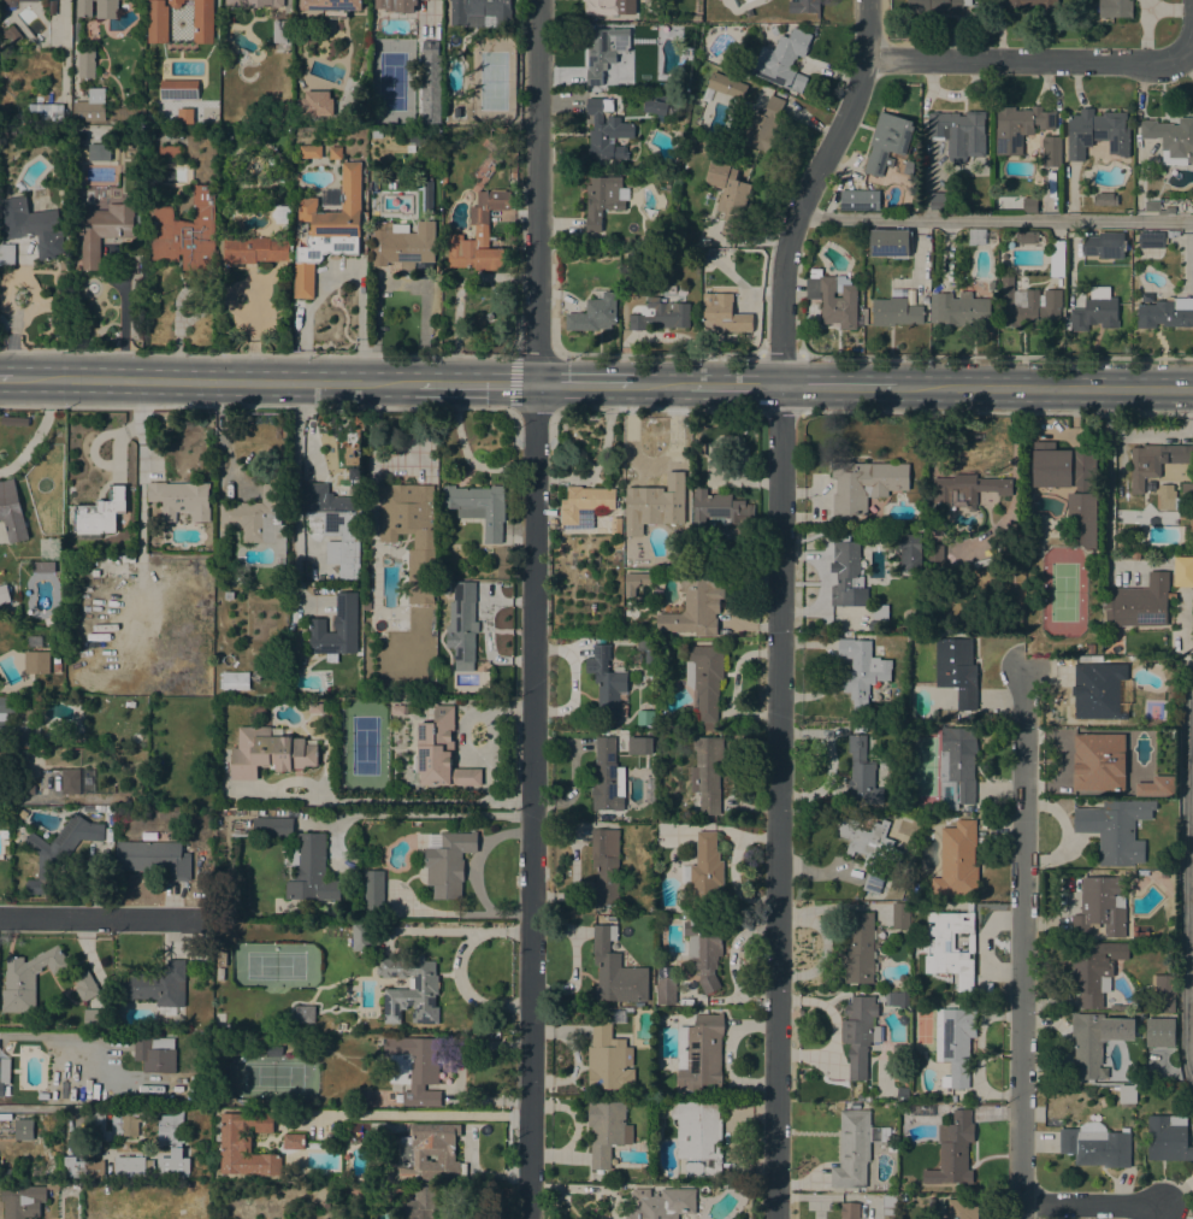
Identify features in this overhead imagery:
building: (49, 0)
building: (175, 2)
building: (253, 2)
building: (13, 4)
building: (396, 5)
building: (803, 6)
building: (935, 6)
building: (1033, 6)
building: (83, 7)
building: (331, 7)
building: (610, 7)
building: (106, 8)
building: (1115, 8)
building: (480, 13)
building: (696, 17)
building: (202, 20)
building: (156, 22)
building: (811, 29)
building: (774, 30)
building: (13, 34)
road: (1189, 45)
building: (430, 48)
building: (603, 51)
building: (782, 60)
road: (1027, 60)
building: (85, 64)
building: (724, 87)
building: (178, 88)
building: (418, 92)
building: (677, 102)
building: (317, 104)
building: (90, 106)
building: (654, 106)
building: (45, 110)
building: (435, 117)
building: (763, 125)
building: (1018, 126)
building: (606, 130)
building: (958, 132)
building: (1097, 132)
building: (377, 134)
building: (1171, 136)
building: (887, 142)
building: (677, 145)
building: (169, 151)
building: (1051, 151)
building: (99, 152)
building: (309, 152)
building: (335, 152)
building: (908, 167)
building: (727, 193)
building: (603, 199)
building: (858, 199)
building: (1104, 199)
building: (658, 200)
building: (940, 200)
building: (1029, 204)
building: (1156, 207)
road: (996, 219)
building: (30, 226)
building: (327, 229)
building: (104, 230)
building: (301, 230)
building: (184, 231)
building: (1171, 234)
building: (479, 236)
building: (976, 236)
building: (1027, 236)
building: (1151, 238)
building: (642, 240)
building: (888, 242)
building: (1104, 245)
building: (397, 246)
building: (254, 249)
building: (7, 254)
building: (636, 258)
building: (1056, 258)
road: (343, 272)
building: (992, 284)
road: (402, 285)
building: (832, 299)
building: (1028, 305)
building: (961, 310)
building: (1094, 311)
building: (894, 312)
building: (593, 313)
building: (724, 313)
building: (660, 314)
building: (1163, 314)
road: (122, 322)
road: (986, 358)
road: (5, 377)
road: (214, 379)
road: (476, 383)
road: (583, 384)
road: (660, 384)
road: (733, 385)
road: (839, 385)
road: (1045, 387)
road: (986, 413)
road: (1150, 435)
building: (699, 448)
building: (1153, 461)
road: (297, 478)
building: (1070, 483)
building: (863, 484)
building: (967, 488)
building: (1167, 493)
building: (179, 499)
building: (584, 502)
building: (652, 506)
building: (478, 507)
building: (724, 510)
building: (11, 512)
building: (100, 512)
building: (258, 518)
building: (333, 520)
building: (411, 532)
building: (1014, 534)
building: (1121, 536)
building: (910, 552)
building: (110, 558)
building: (128, 558)
building: (1181, 563)
building: (42, 566)
building: (95, 572)
building: (847, 575)
building: (634, 582)
building: (4, 596)
road: (778, 601)
building: (1140, 602)
building: (695, 603)
road: (535, 609)
building: (880, 612)
building: (1012, 613)
building: (1093, 619)
building: (402, 624)
building: (862, 624)
building: (461, 625)
building: (335, 628)
road: (485, 630)
building: (34, 640)
building: (1089, 648)
building: (879, 649)
building: (1089, 658)
building: (649, 661)
building: (36, 662)
building: (57, 664)
building: (957, 670)
building: (863, 675)
building: (235, 681)
building: (606, 682)
building: (704, 682)
building: (1098, 693)
building: (129, 703)
building: (314, 708)
building: (5, 709)
building: (398, 709)
building: (24, 734)
building: (638, 744)
building: (441, 750)
building: (270, 752)
building: (23, 756)
road: (486, 756)
building: (1098, 759)
building: (956, 766)
building: (707, 772)
building: (861, 772)
building: (604, 777)
building: (70, 781)
building: (1154, 787)
building: (28, 789)
building: (102, 808)
road: (427, 813)
building: (23, 814)
building: (630, 818)
building: (272, 826)
building: (1115, 829)
road: (1063, 832)
building: (870, 849)
building: (58, 852)
building: (154, 859)
building: (957, 860)
building: (447, 861)
building: (1156, 861)
building: (604, 865)
building: (311, 870)
road: (1185, 871)
building: (705, 872)
road: (477, 874)
building: (1163, 874)
building: (372, 890)
building: (1100, 907)
building: (900, 915)
road: (99, 919)
building: (359, 935)
road: (1021, 942)
building: (951, 947)
building: (704, 949)
building: (860, 949)
road: (459, 967)
building: (615, 970)
building: (1093, 970)
building: (219, 973)
building: (28, 978)
building: (87, 985)
building: (156, 985)
building: (411, 989)
building: (665, 991)
building: (1162, 993)
building: (899, 999)
building: (1114, 1007)
building: (305, 1013)
building: (96, 1019)
building: (1158, 1031)
building: (860, 1032)
building: (955, 1043)
building: (1087, 1043)
building: (220, 1044)
building: (272, 1050)
building: (699, 1052)
building: (153, 1056)
building: (609, 1056)
building: (414, 1067)
building: (4, 1073)
building: (1174, 1074)
building: (902, 1094)
building: (1126, 1094)
building: (364, 1097)
road: (36, 1108)
road: (429, 1113)
building: (116, 1123)
building: (23, 1129)
building: (170, 1129)
building: (607, 1131)
building: (698, 1136)
building: (1168, 1137)
building: (291, 1141)
building: (1095, 1144)
building: (852, 1148)
building: (243, 1149)
building: (952, 1150)
building: (430, 1153)
building: (129, 1167)
building: (59, 1171)
building: (23, 1199)
building: (420, 1202)
building: (662, 1203)
building: (887, 1205)
road: (1088, 1205)
building: (962, 1208)
building: (850, 1211)

